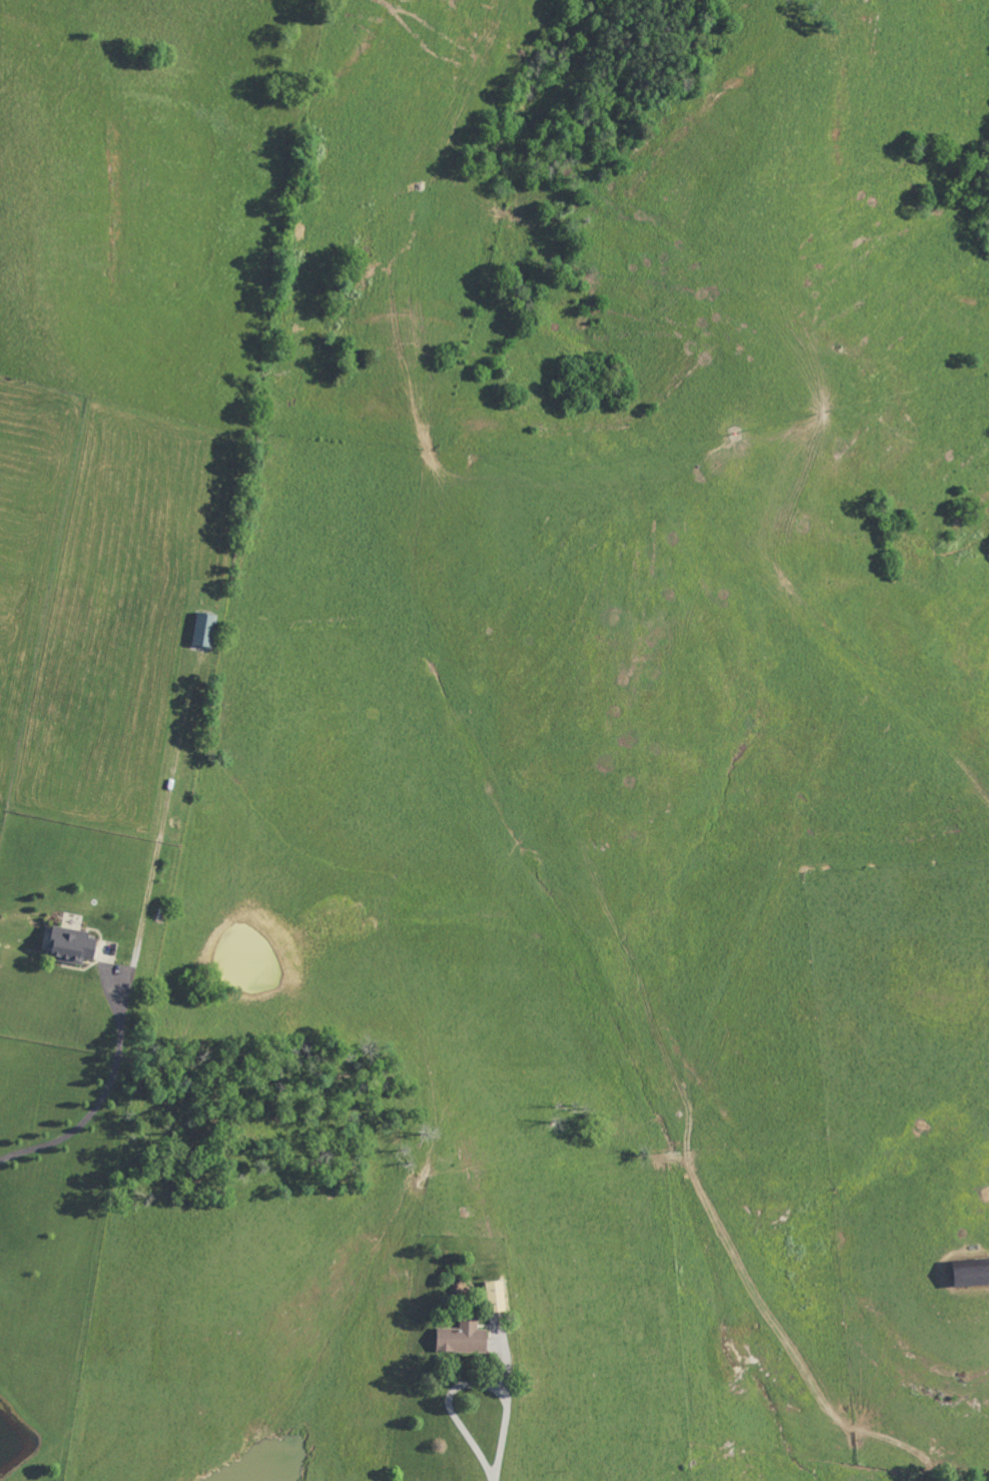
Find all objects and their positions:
building: (206, 629)
building: (73, 945)
road: (102, 1098)
building: (972, 1272)
building: (496, 1295)
building: (463, 1337)

